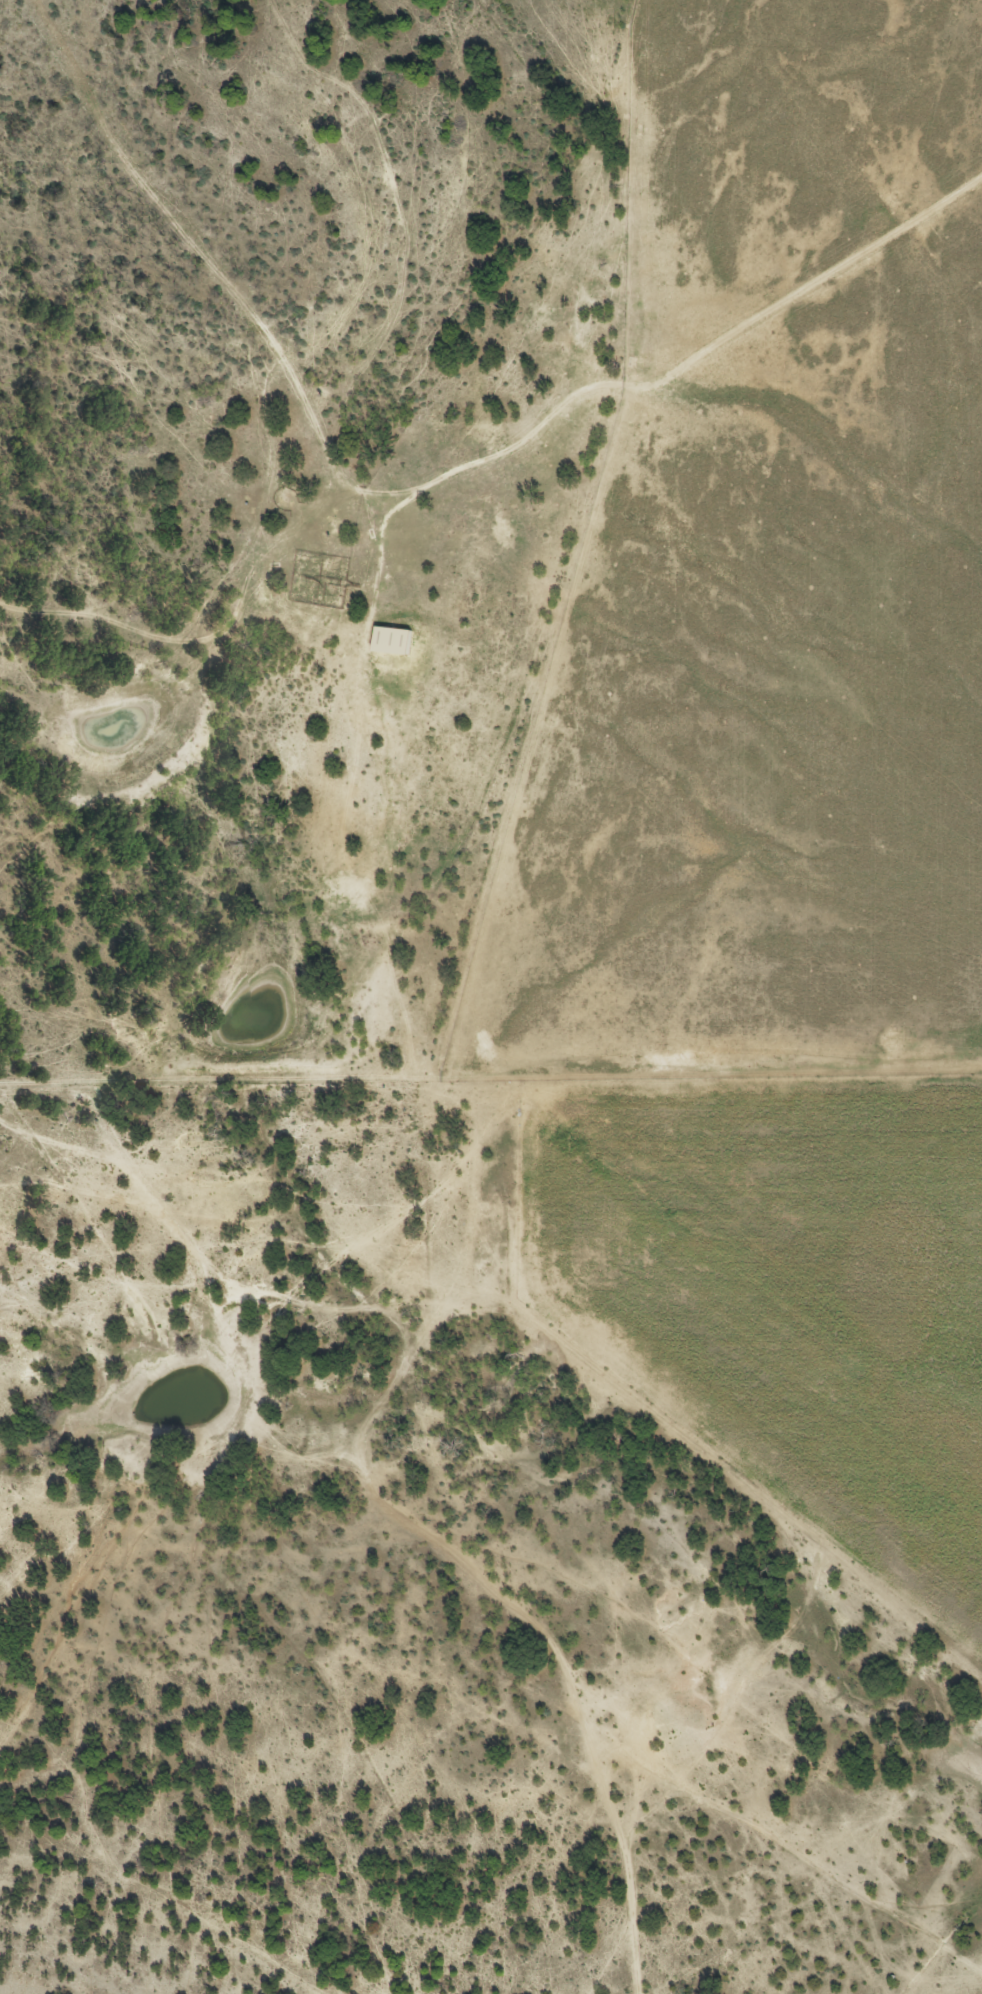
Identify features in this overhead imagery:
building: (395, 639)

